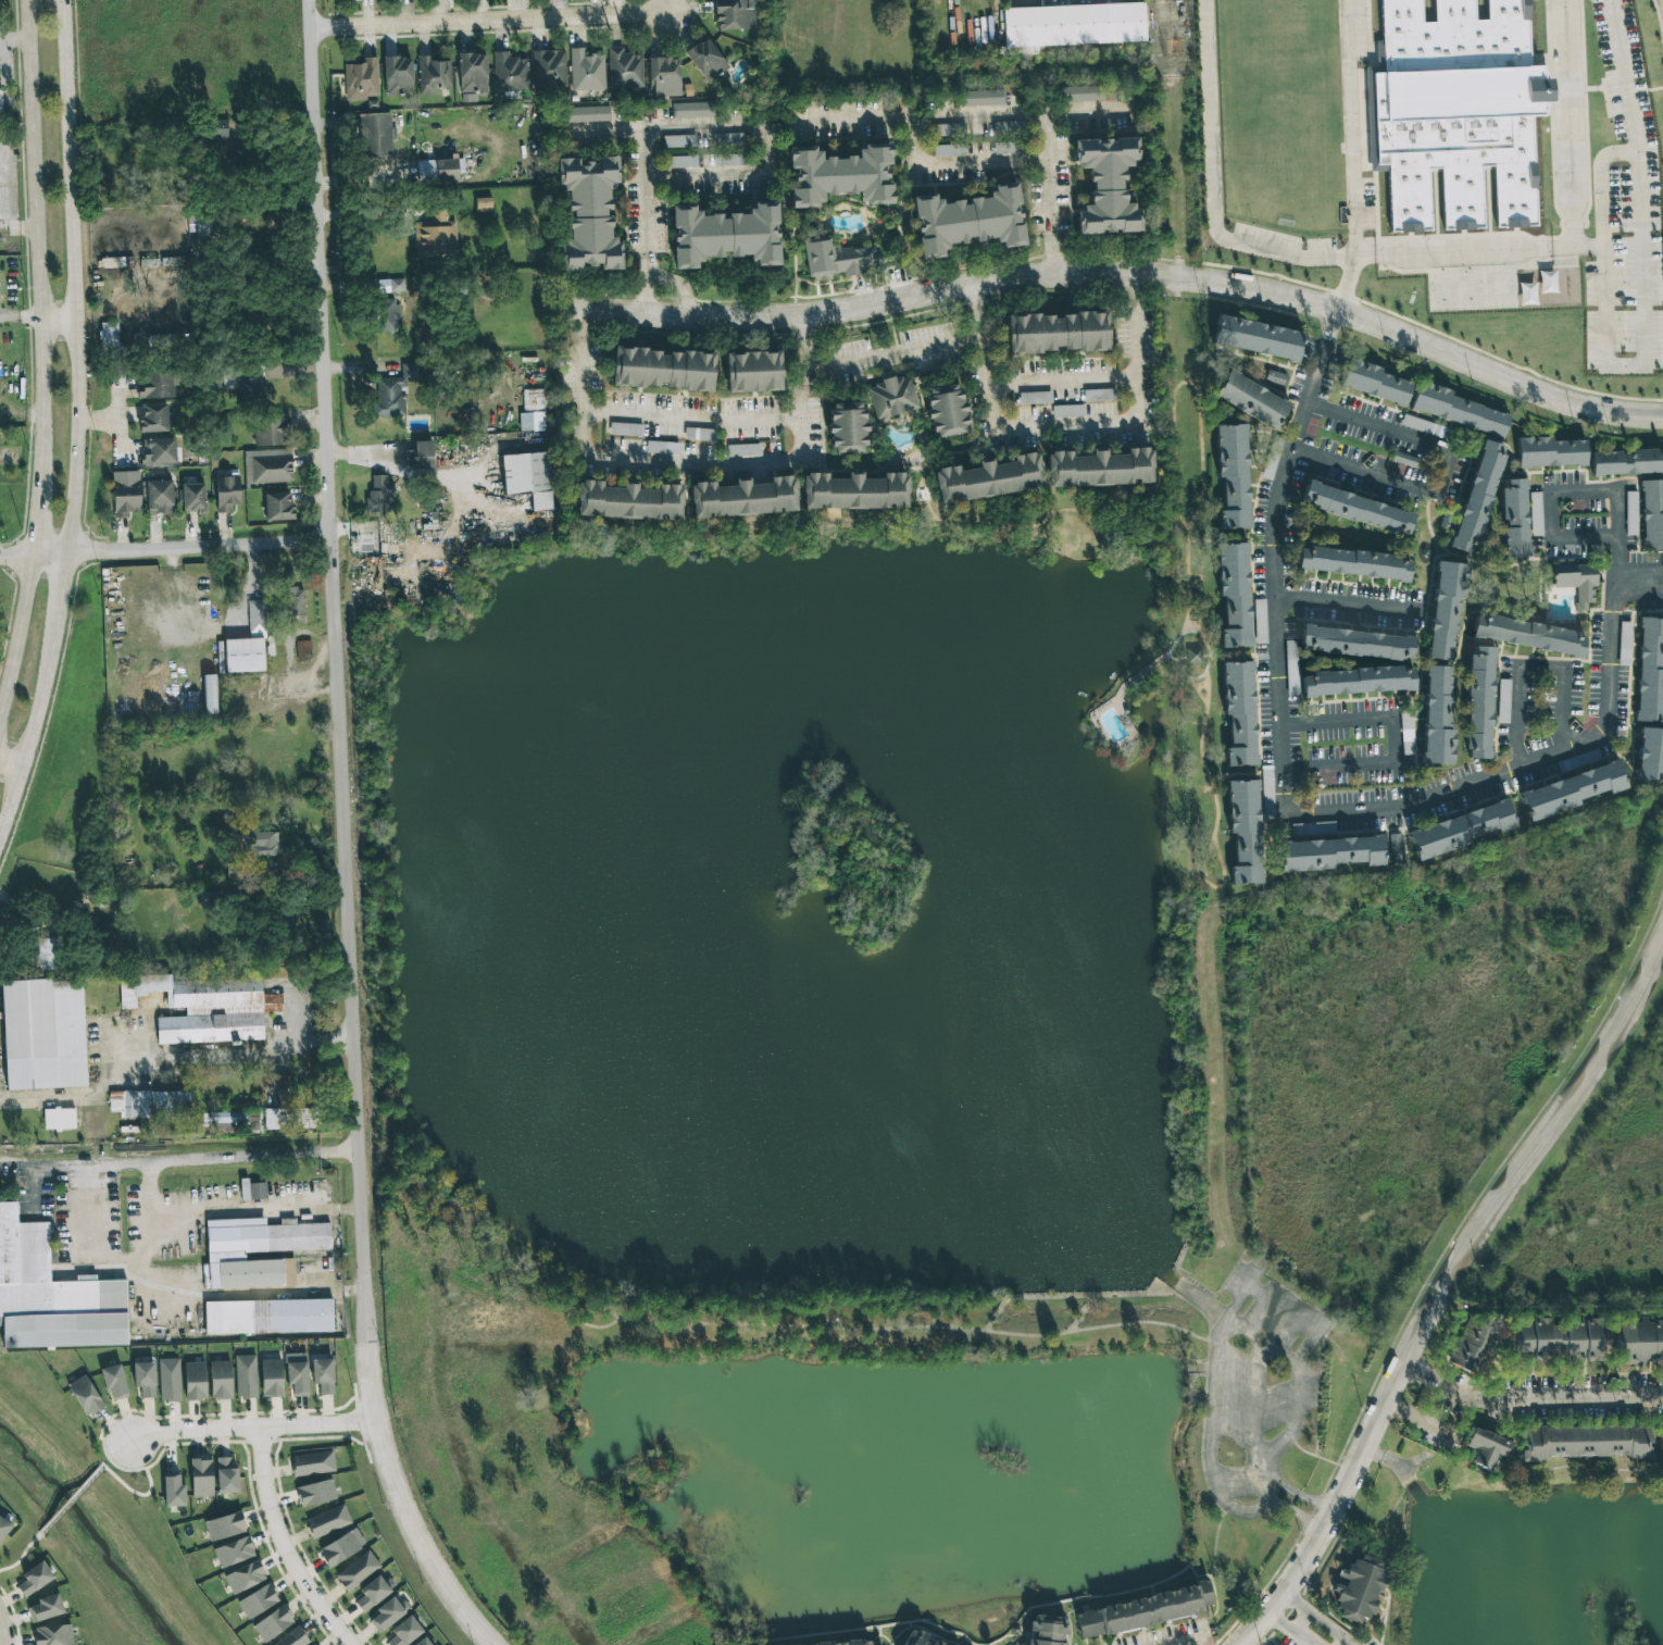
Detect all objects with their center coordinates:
road: (663, 8)
building: (734, 14)
road: (487, 22)
building: (1071, 25)
road: (1160, 34)
building: (707, 60)
building: (624, 68)
building: (548, 71)
building: (586, 71)
building: (472, 73)
building: (510, 73)
building: (434, 74)
building: (398, 75)
building: (663, 76)
building: (361, 79)
building: (1081, 94)
building: (983, 97)
building: (0, 108)
building: (693, 110)
building: (1458, 111)
building: (588, 114)
road: (1076, 116)
road: (856, 123)
road: (1565, 124)
building: (1006, 127)
building: (218, 128)
building: (949, 129)
building: (375, 135)
building: (728, 138)
building: (678, 140)
building: (1006, 148)
building: (949, 150)
building: (729, 159)
building: (680, 161)
road: (964, 165)
building: (437, 170)
building: (840, 175)
road: (733, 185)
building: (1106, 185)
road: (1599, 185)
road: (645, 194)
building: (483, 204)
building: (589, 213)
building: (968, 221)
building: (202, 232)
building: (435, 235)
building: (725, 235)
road: (1546, 251)
road: (1055, 257)
building: (838, 259)
road: (1120, 271)
road: (647, 284)
road: (676, 286)
road: (1137, 287)
road: (1345, 287)
building: (385, 315)
road: (974, 319)
road: (58, 322)
road: (580, 325)
building: (1056, 333)
building: (109, 334)
building: (1256, 338)
road: (808, 347)
road: (39, 352)
road: (1324, 354)
road: (888, 362)
building: (662, 369)
building: (753, 371)
building: (1275, 377)
road: (1062, 382)
building: (1373, 382)
building: (238, 383)
building: (158, 384)
building: (395, 391)
building: (892, 397)
building: (1035, 397)
building: (1251, 399)
building: (946, 410)
building: (1068, 410)
building: (1455, 410)
building: (532, 411)
road: (77, 418)
building: (153, 418)
road: (117, 419)
road: (693, 421)
road: (98, 422)
building: (1422, 426)
building: (847, 427)
building: (625, 428)
road: (1080, 428)
building: (271, 431)
road: (1203, 436)
building: (661, 447)
building: (742, 450)
building: (158, 451)
building: (1549, 452)
building: (421, 454)
road: (675, 461)
building: (1626, 462)
building: (1270, 465)
building: (267, 466)
road: (401, 468)
building: (1099, 469)
road: (1450, 469)
building: (1233, 475)
building: (528, 477)
building: (988, 478)
road: (1555, 489)
building: (854, 491)
building: (125, 493)
building: (227, 493)
building: (379, 494)
building: (159, 497)
building: (1477, 497)
building: (193, 498)
building: (742, 498)
building: (627, 501)
building: (277, 506)
building: (1356, 509)
building: (1535, 513)
building: (1630, 513)
building: (1651, 513)
building: (1514, 518)
road: (164, 548)
building: (1353, 563)
road: (1543, 565)
road: (1646, 570)
building: (1576, 582)
road: (1641, 588)
building: (1234, 594)
building: (296, 601)
road: (1352, 601)
building: (1443, 611)
building: (1527, 635)
road: (334, 637)
building: (1355, 643)
building: (248, 644)
building: (1624, 644)
building: (302, 650)
building: (1193, 656)
road: (1181, 666)
building: (1291, 668)
building: (1650, 670)
road: (1143, 671)
building: (1356, 681)
road: (1568, 684)
building: (210, 690)
building: (1478, 702)
building: (1239, 712)
road: (1523, 713)
building: (1437, 714)
road: (1398, 736)
road: (1205, 748)
building: (1650, 755)
road: (11, 764)
road: (1429, 767)
road: (1266, 773)
building: (1570, 790)
building: (1267, 793)
road: (1343, 810)
building: (1314, 828)
building: (1461, 830)
building: (1243, 831)
building: (259, 844)
building: (1393, 848)
building: (1329, 853)
road: (1208, 861)
building: (47, 954)
building: (204, 1007)
road: (293, 1014)
building: (43, 1034)
road: (235, 1056)
building: (150, 1104)
building: (59, 1119)
building: (273, 1119)
building: (235, 1121)
road: (234, 1160)
road: (50, 1167)
building: (253, 1191)
road: (351, 1208)
road: (245, 1213)
road: (149, 1221)
road: (101, 1229)
building: (258, 1250)
road: (353, 1291)
road: (236, 1294)
building: (52, 1295)
road: (1236, 1298)
road: (1448, 1298)
building: (268, 1317)
building: (1537, 1338)
road: (1261, 1339)
building: (1587, 1339)
building: (1641, 1341)
building: (323, 1375)
building: (246, 1376)
building: (271, 1378)
building: (297, 1378)
building: (143, 1379)
road: (1426, 1379)
building: (168, 1380)
building: (220, 1380)
building: (195, 1381)
building: (114, 1382)
parking lot: (1258, 1389)
building: (84, 1395)
road: (1550, 1404)
road: (1255, 1405)
road: (251, 1428)
building: (1584, 1442)
building: (1660, 1445)
building: (1486, 1448)
building: (312, 1462)
road: (388, 1472)
building: (226, 1474)
building: (201, 1478)
road: (1262, 1479)
road: (1268, 1486)
road: (146, 1491)
building: (173, 1491)
building: (315, 1493)
road: (71, 1500)
building: (327, 1521)
building: (224, 1526)
building: (3, 1528)
road: (287, 1543)
building: (341, 1547)
building: (234, 1551)
road: (21, 1556)
building: (357, 1570)
building: (245, 1577)
building: (34, 1579)
building: (1359, 1588)
building: (371, 1594)
building: (258, 1600)
building: (46, 1608)
building: (1142, 1610)
building: (388, 1613)
building: (273, 1623)
building: (1047, 1630)
road: (4, 1631)
building: (402, 1632)
road: (1290, 1633)
building: (51, 1635)
building: (293, 1637)
building: (914, 1638)
building: (423, 1642)
building: (856, 1642)
building: (935, 1642)
building: (829, 1643)
road: (1195, 1643)
building: (313, 1644)
building: (767, 1644)
building: (795, 1644)

